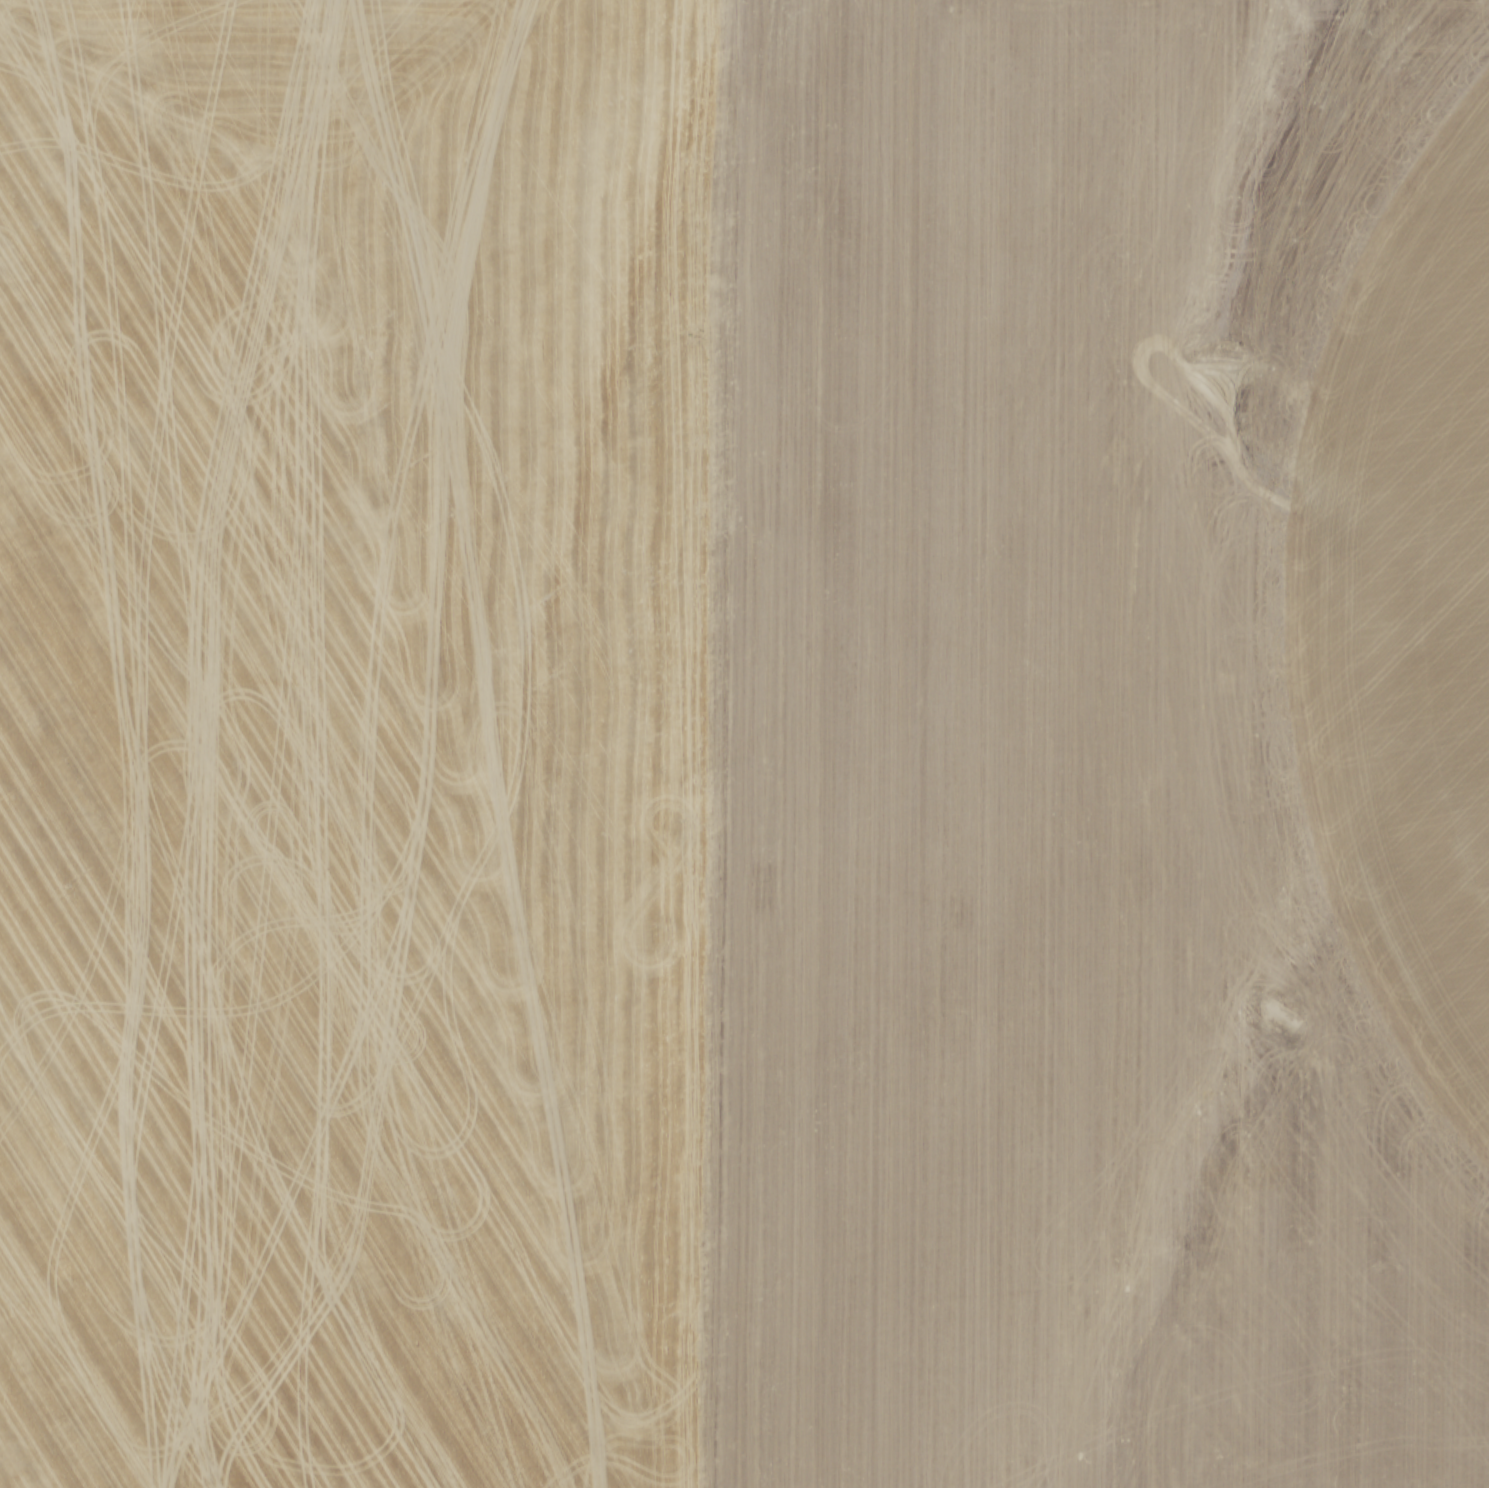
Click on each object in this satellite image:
crop: (1417, 632)

